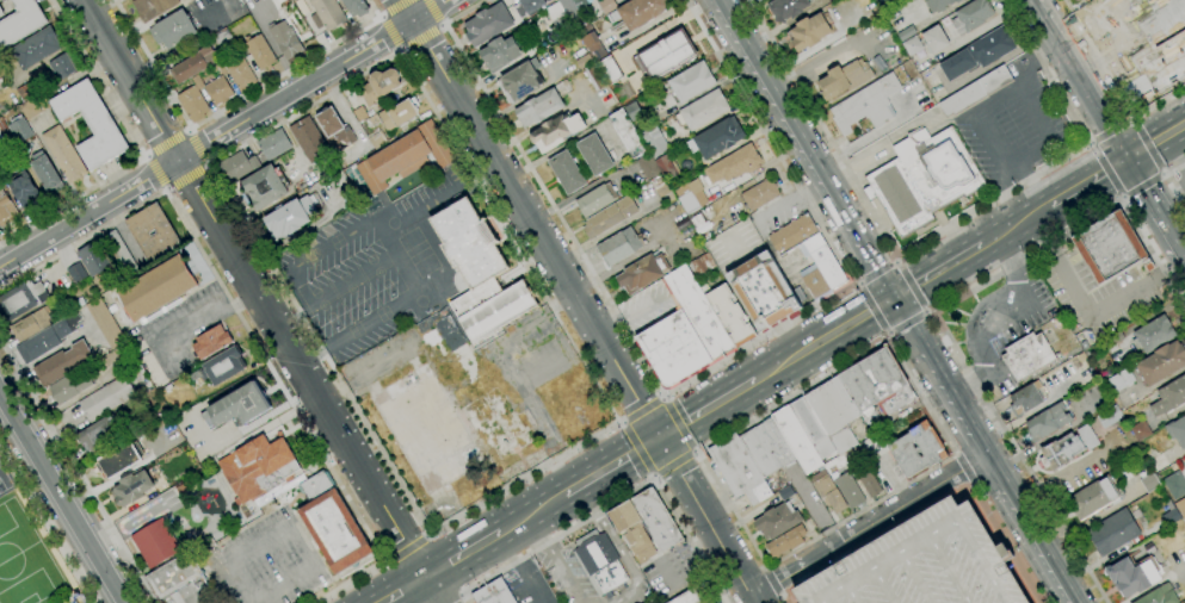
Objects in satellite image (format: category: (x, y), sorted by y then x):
building: (755, 0)
building: (758, 0)
building: (1075, 0)
building: (937, 4)
building: (529, 6)
building: (607, 6)
building: (152, 7)
building: (356, 7)
road: (396, 8)
building: (788, 8)
road: (405, 10)
building: (1, 12)
road: (431, 12)
road: (462, 12)
building: (574, 12)
building: (641, 12)
building: (327, 14)
building: (971, 15)
road: (379, 17)
building: (558, 18)
building: (20, 23)
road: (440, 24)
building: (487, 24)
building: (173, 30)
building: (585, 31)
road: (390, 32)
road: (393, 32)
building: (808, 32)
building: (906, 32)
road: (419, 36)
building: (222, 37)
building: (936, 39)
building: (284, 41)
building: (1137, 43)
building: (593, 45)
building: (912, 46)
building: (990, 46)
building: (36, 48)
road: (400, 49)
building: (259, 51)
building: (500, 54)
building: (665, 54)
building: (195, 64)
building: (957, 64)
road: (1033, 64)
building: (63, 66)
building: (609, 68)
road: (1044, 70)
building: (239, 73)
building: (845, 77)
building: (521, 80)
road: (1074, 80)
building: (197, 81)
building: (691, 81)
building: (379, 86)
road: (1111, 86)
road: (755, 87)
building: (26, 91)
building: (218, 91)
road: (294, 91)
building: (975, 91)
road: (995, 99)
building: (192, 104)
road: (227, 105)
building: (866, 105)
building: (539, 107)
building: (30, 108)
building: (702, 110)
building: (634, 111)
building: (400, 113)
building: (359, 114)
road: (1036, 114)
road: (1130, 119)
building: (374, 120)
building: (2, 124)
building: (91, 124)
road: (791, 125)
road: (821, 126)
building: (20, 130)
road: (187, 130)
building: (334, 130)
parking lot: (1014, 130)
building: (555, 131)
road: (1109, 131)
building: (627, 133)
road: (870, 135)
building: (717, 138)
building: (308, 139)
road: (770, 139)
building: (377, 141)
road: (989, 141)
building: (654, 142)
road: (1154, 142)
road: (878, 143)
road: (1087, 143)
road: (166, 144)
building: (272, 144)
road: (1144, 147)
road: (138, 149)
road: (195, 149)
building: (64, 154)
building: (594, 155)
road: (144, 156)
building: (406, 156)
road: (1029, 156)
traffic signals: (1123, 161)
road: (178, 162)
road: (206, 164)
building: (733, 164)
building: (647, 166)
building: (237, 167)
building: (667, 167)
road: (1105, 169)
road: (155, 170)
road: (1142, 170)
building: (567, 172)
building: (45, 173)
road: (1164, 174)
road: (184, 175)
road: (814, 175)
building: (922, 179)
road: (1171, 180)
road: (1035, 182)
road: (1085, 182)
road: (1141, 185)
building: (265, 186)
road: (163, 188)
building: (24, 191)
building: (760, 194)
building: (665, 195)
building: (686, 198)
building: (595, 199)
road: (791, 200)
road: (993, 200)
road: (1121, 200)
road: (1172, 205)
building: (7, 211)
road: (1152, 211)
road: (425, 215)
building: (290, 217)
building: (609, 217)
building: (683, 224)
building: (702, 224)
road: (1014, 224)
road: (831, 225)
road: (535, 229)
road: (60, 230)
road: (1038, 231)
building: (163, 234)
building: (792, 235)
building: (469, 243)
building: (619, 245)
building: (1110, 247)
road: (737, 248)
park: (416, 251)
building: (119, 254)
road: (401, 255)
road: (896, 257)
building: (94, 259)
road: (6, 262)
road: (1183, 263)
building: (702, 265)
road: (1172, 266)
flagpole: (521, 267)
building: (820, 268)
road: (937, 271)
building: (76, 272)
park: (378, 272)
building: (642, 273)
road: (877, 273)
road: (881, 273)
road: (857, 282)
road: (337, 285)
road: (908, 286)
road: (255, 287)
building: (704, 287)
building: (155, 288)
park: (350, 288)
road: (871, 290)
building: (764, 291)
road: (763, 292)
traffic signals: (895, 297)
building: (474, 298)
building: (21, 299)
road: (562, 300)
road: (1027, 301)
park: (321, 305)
traffic signals: (881, 305)
road: (610, 306)
road: (874, 306)
building: (498, 311)
building: (697, 311)
road: (926, 311)
road: (928, 311)
road: (1091, 315)
building: (730, 316)
road: (974, 317)
road: (889, 319)
road: (906, 321)
building: (105, 323)
building: (31, 324)
road: (246, 328)
parking lot: (175, 332)
road: (888, 332)
building: (1154, 334)
road: (789, 337)
road: (823, 337)
building: (48, 338)
building: (211, 342)
building: (673, 348)
building: (1027, 355)
building: (126, 361)
railway: (782, 361)
road: (504, 362)
road: (912, 362)
building: (1161, 362)
building: (62, 363)
railway: (786, 366)
building: (221, 367)
building: (135, 371)
parking lot: (554, 380)
road: (967, 380)
building: (1119, 380)
building: (70, 386)
building: (876, 386)
road: (943, 394)
building: (1169, 397)
building: (106, 398)
road: (933, 398)
building: (1026, 398)
road: (662, 399)
road: (665, 399)
road: (2, 400)
building: (239, 405)
road: (706, 409)
road: (643, 410)
road: (1033, 410)
building: (834, 414)
building: (1109, 416)
road: (623, 421)
building: (1047, 422)
road: (621, 423)
road: (678, 423)
road: (949, 424)
road: (248, 427)
building: (813, 430)
building: (1140, 430)
building: (1177, 431)
building: (100, 434)
traffic signals: (659, 437)
building: (796, 440)
building: (462, 442)
road: (974, 443)
road: (636, 447)
building: (767, 447)
building: (1067, 448)
road: (693, 449)
building: (916, 449)
road: (986, 449)
road: (692, 453)
road: (956, 454)
road: (1014, 458)
building: (119, 460)
road: (560, 462)
road: (674, 462)
road: (611, 465)
road: (974, 466)
building: (258, 467)
road: (963, 468)
building: (739, 470)
road: (989, 471)
road: (79, 472)
building: (863, 472)
road: (653, 475)
road: (658, 477)
park: (4, 483)
road: (969, 483)
building: (1149, 483)
building: (1174, 484)
building: (132, 489)
building: (848, 490)
building: (827, 491)
road: (692, 493)
building: (785, 493)
road: (62, 497)
building: (1093, 498)
road: (616, 502)
road: (931, 502)
building: (1180, 506)
road: (895, 508)
road: (531, 512)
building: (1171, 514)
building: (656, 518)
building: (777, 521)
building: (332, 524)
road: (47, 526)
road: (119, 527)
road: (428, 531)
building: (632, 531)
building: (1112, 533)
road: (427, 535)
road: (933, 535)
building: (786, 541)
building: (158, 542)
road: (258, 543)
road: (1022, 547)
road: (407, 548)
road: (618, 548)
road: (298, 549)
road: (461, 554)
road: (558, 557)
park: (23, 560)
road: (388, 560)
parking lot: (267, 562)
building: (601, 562)
road: (763, 564)
road: (819, 564)
building: (922, 565)
parking lot: (922, 565)
road: (512, 568)
road: (765, 568)
road: (953, 568)
parking lot: (674, 570)
parking lot: (564, 574)
building: (1132, 574)
building: (173, 577)
road: (739, 577)
road: (922, 577)
road: (240, 580)
road: (772, 580)
road: (777, 580)
parking lot: (527, 584)
road: (889, 585)
road: (280, 586)
road: (402, 590)
road: (432, 590)
building: (493, 593)
parking lot: (631, 593)
road: (857, 593)
building: (192, 595)
road: (461, 595)
road: (782, 596)
building: (1159, 596)
flagpole: (80, 597)
building: (687, 597)
road: (451, 599)
road: (252, 602)

